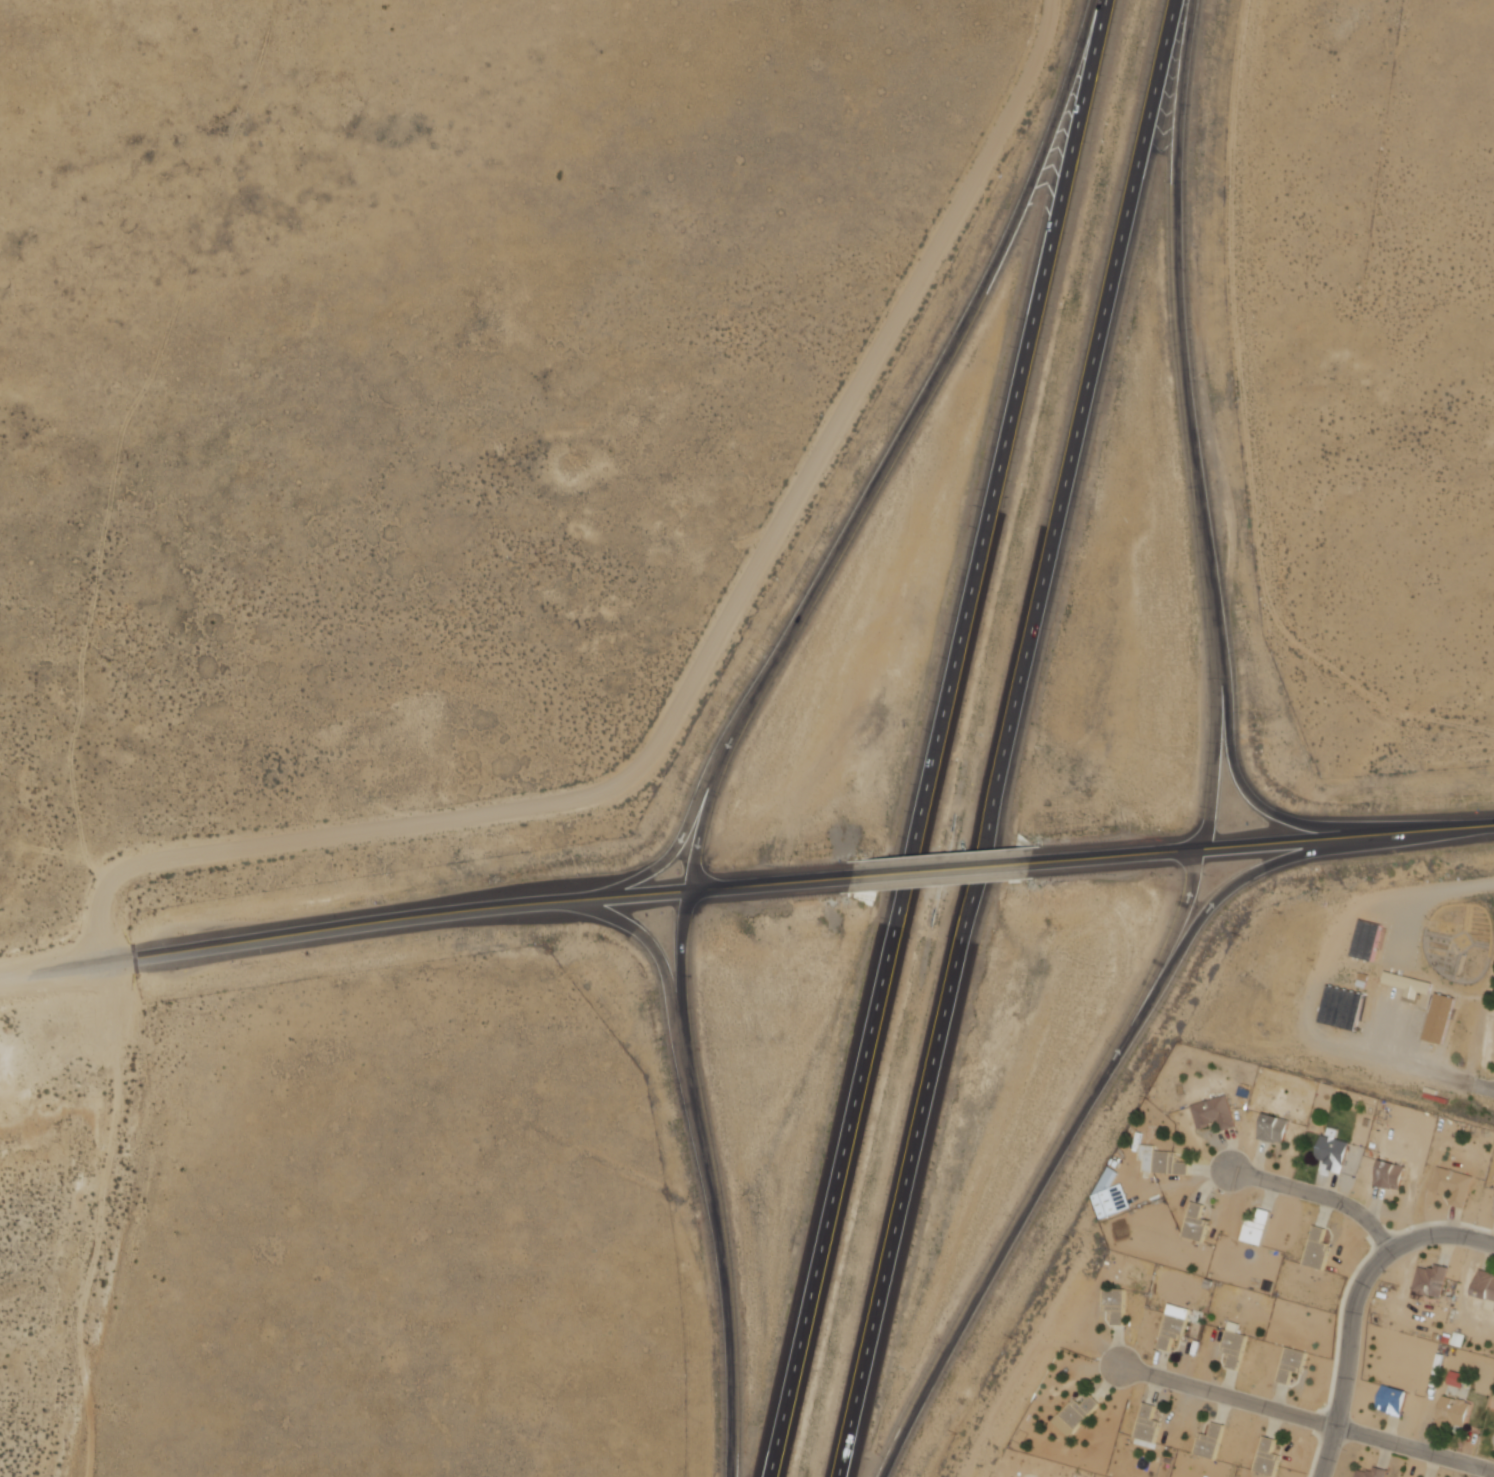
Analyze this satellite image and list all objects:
road: (1195, 447)
road: (880, 479)
road: (1215, 724)
road: (939, 738)
road: (1011, 738)
road: (700, 830)
road: (1264, 835)
road: (942, 861)
road: (772, 875)
road: (631, 922)
road: (346, 924)
road: (1172, 934)
building: (1370, 939)
building: (1410, 984)
building: (1344, 1007)
building: (1441, 1018)
road: (1117, 1057)
building: (1212, 1113)
building: (1275, 1128)
building: (1335, 1150)
building: (1164, 1161)
building: (1391, 1175)
road: (712, 1178)
building: (1455, 1186)
road: (1318, 1194)
building: (1104, 1203)
building: (1198, 1223)
building: (1259, 1228)
building: (1319, 1249)
building: (1432, 1280)
building: (1485, 1287)
building: (1117, 1304)
road: (1355, 1305)
building: (1176, 1325)
building: (1236, 1344)
building: (1294, 1364)
building: (1457, 1378)
building: (1394, 1399)
building: (1453, 1413)
building: (1074, 1417)
road: (1305, 1417)
building: (1149, 1423)
building: (1213, 1441)
building: (1268, 1457)
building: (1373, 1472)

